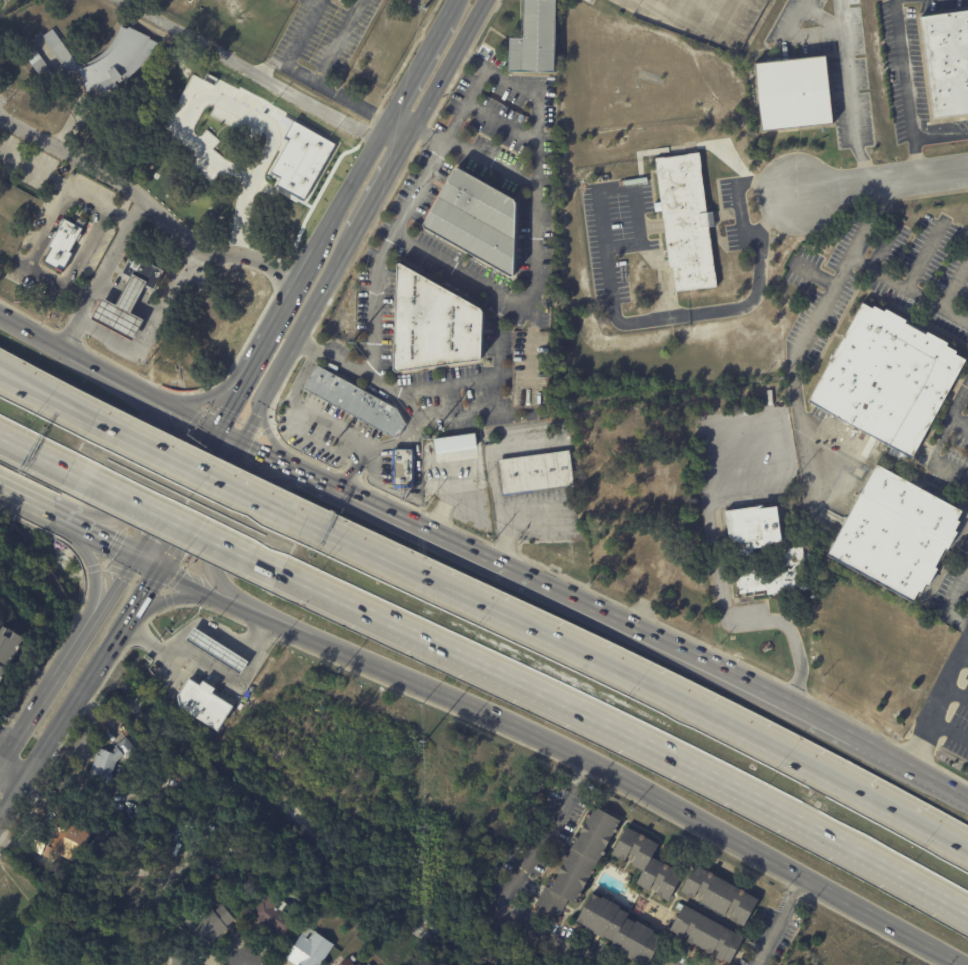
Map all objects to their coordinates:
road: (634, 2)
road: (449, 10)
road: (844, 16)
road: (688, 22)
road: (794, 36)
building: (538, 39)
road: (341, 41)
building: (110, 61)
building: (947, 62)
road: (449, 63)
building: (42, 67)
road: (247, 69)
road: (485, 69)
road: (304, 73)
road: (410, 79)
road: (907, 88)
road: (528, 92)
building: (794, 93)
road: (852, 109)
road: (399, 124)
road: (428, 134)
road: (490, 165)
building: (607, 177)
road: (384, 178)
building: (592, 180)
road: (882, 181)
road: (63, 183)
road: (345, 194)
road: (155, 205)
road: (739, 211)
building: (478, 220)
building: (688, 221)
road: (392, 236)
road: (880, 243)
building: (66, 244)
road: (925, 253)
road: (100, 271)
road: (812, 271)
road: (329, 277)
road: (44, 279)
road: (894, 281)
road: (77, 289)
road: (947, 294)
road: (613, 297)
building: (130, 301)
road: (277, 313)
road: (4, 316)
building: (436, 325)
road: (807, 326)
road: (36, 334)
road: (152, 341)
road: (374, 352)
road: (532, 355)
road: (104, 374)
road: (460, 379)
building: (887, 379)
road: (270, 383)
road: (50, 388)
road: (50, 394)
building: (769, 397)
road: (201, 398)
building: (355, 399)
road: (226, 405)
road: (304, 407)
road: (951, 409)
road: (177, 414)
road: (459, 414)
building: (317, 431)
traffic signals: (211, 432)
road: (270, 437)
road: (224, 438)
road: (384, 444)
building: (466, 444)
traffic signals: (237, 445)
building: (440, 448)
road: (493, 448)
road: (36, 449)
road: (263, 457)
building: (407, 467)
road: (202, 469)
road: (949, 469)
building: (537, 473)
road: (298, 474)
road: (144, 478)
road: (172, 496)
road: (443, 504)
road: (36, 505)
road: (198, 508)
road: (507, 516)
road: (232, 518)
road: (398, 519)
road: (175, 520)
building: (894, 534)
road: (103, 541)
traffic signals: (134, 560)
building: (798, 560)
road: (147, 565)
traffic signals: (160, 571)
road: (94, 573)
road: (196, 587)
road: (147, 592)
road: (721, 593)
road: (110, 594)
road: (171, 596)
road: (948, 601)
road: (131, 618)
flagpole: (769, 644)
flagpole: (766, 645)
road: (675, 647)
building: (216, 649)
building: (11, 653)
road: (963, 656)
road: (613, 666)
road: (219, 678)
road: (50, 685)
road: (955, 690)
road: (934, 698)
road: (76, 704)
building: (208, 704)
road: (946, 729)
road: (626, 734)
road: (7, 738)
road: (7, 753)
road: (891, 755)
building: (113, 761)
road: (605, 771)
road: (12, 777)
building: (185, 778)
road: (946, 786)
road: (13, 804)
building: (65, 837)
road: (942, 839)
building: (652, 863)
building: (583, 864)
road: (506, 886)
building: (723, 894)
building: (275, 915)
road: (782, 921)
building: (212, 925)
building: (624, 931)
building: (711, 931)
building: (312, 949)
building: (187, 960)
building: (351, 960)
building: (361, 964)
building: (371, 964)

